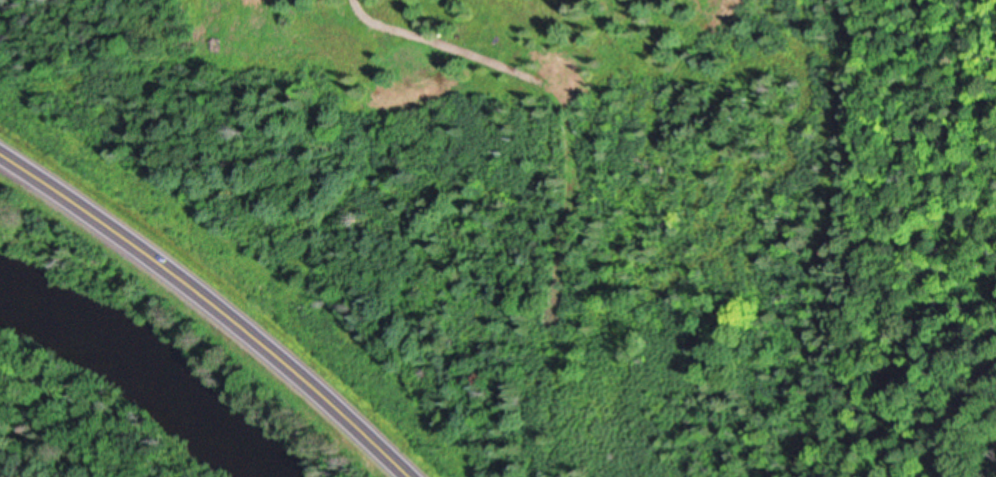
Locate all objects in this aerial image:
park: (937, 239)
road: (216, 301)
river: (151, 361)

